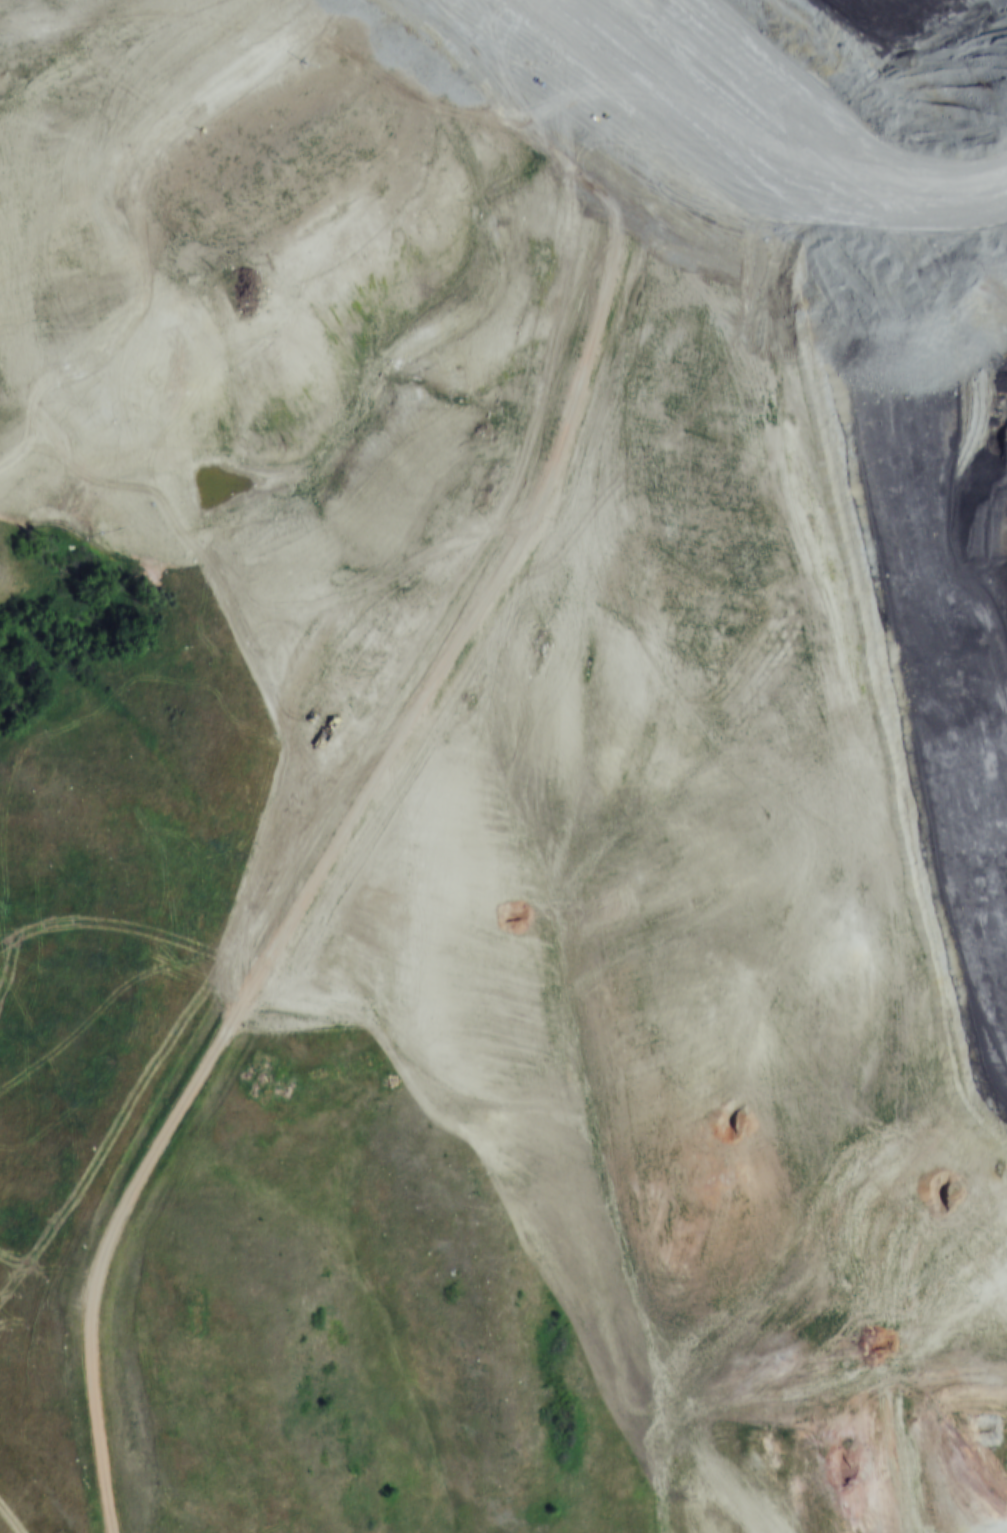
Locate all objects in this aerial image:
road: (388, 760)
building: (245, 1074)

